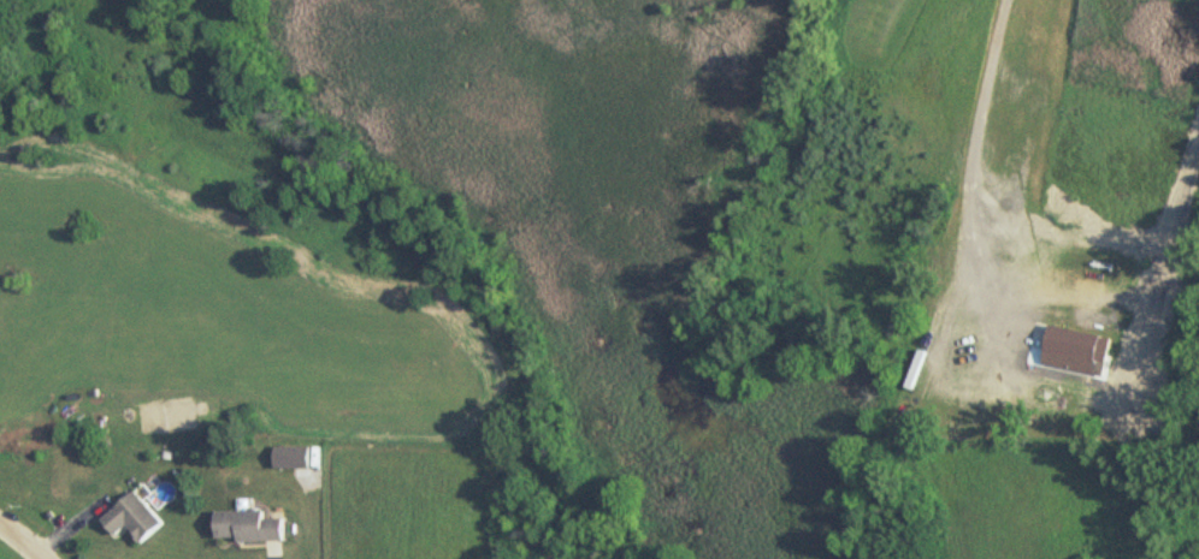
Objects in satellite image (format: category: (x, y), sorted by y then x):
road: (975, 145)
building: (135, 518)
building: (249, 528)
road: (20, 540)
road: (273, 557)

